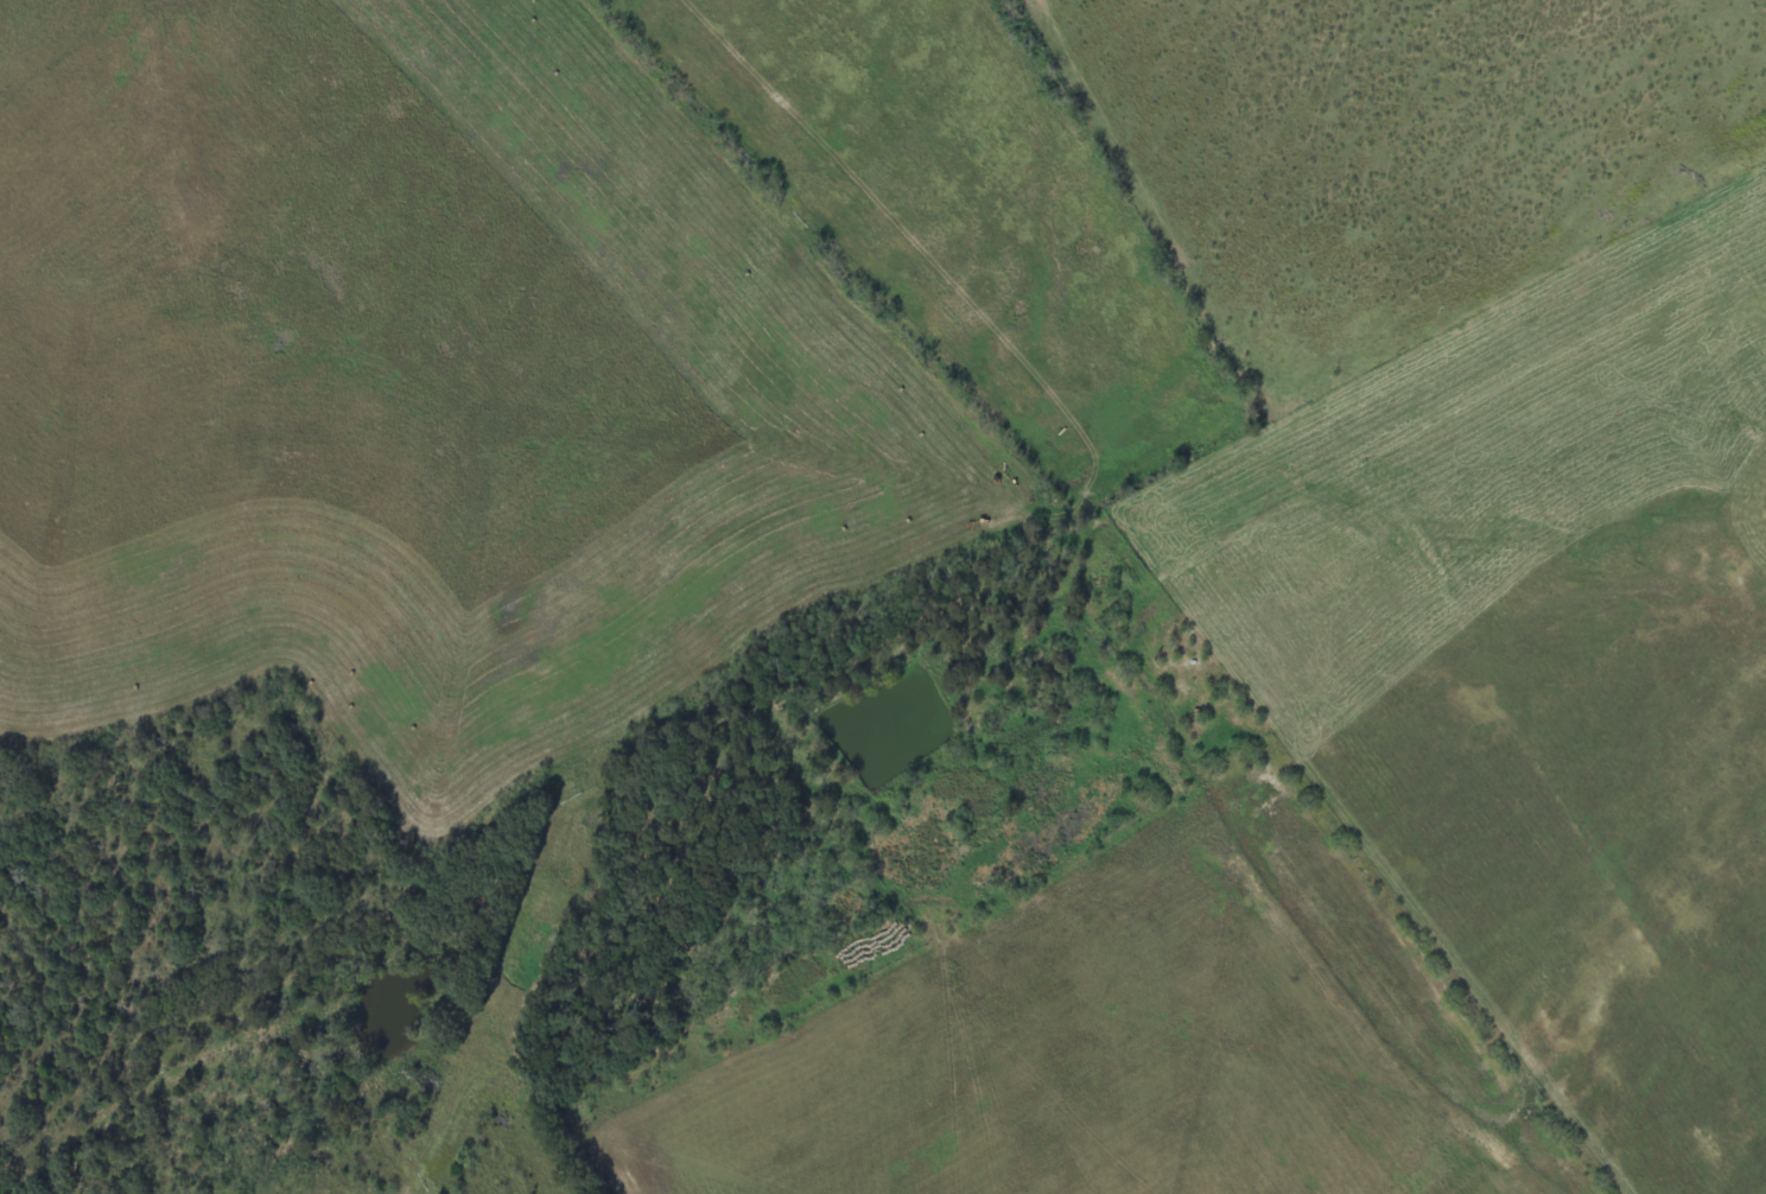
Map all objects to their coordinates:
road: (134, 1147)

